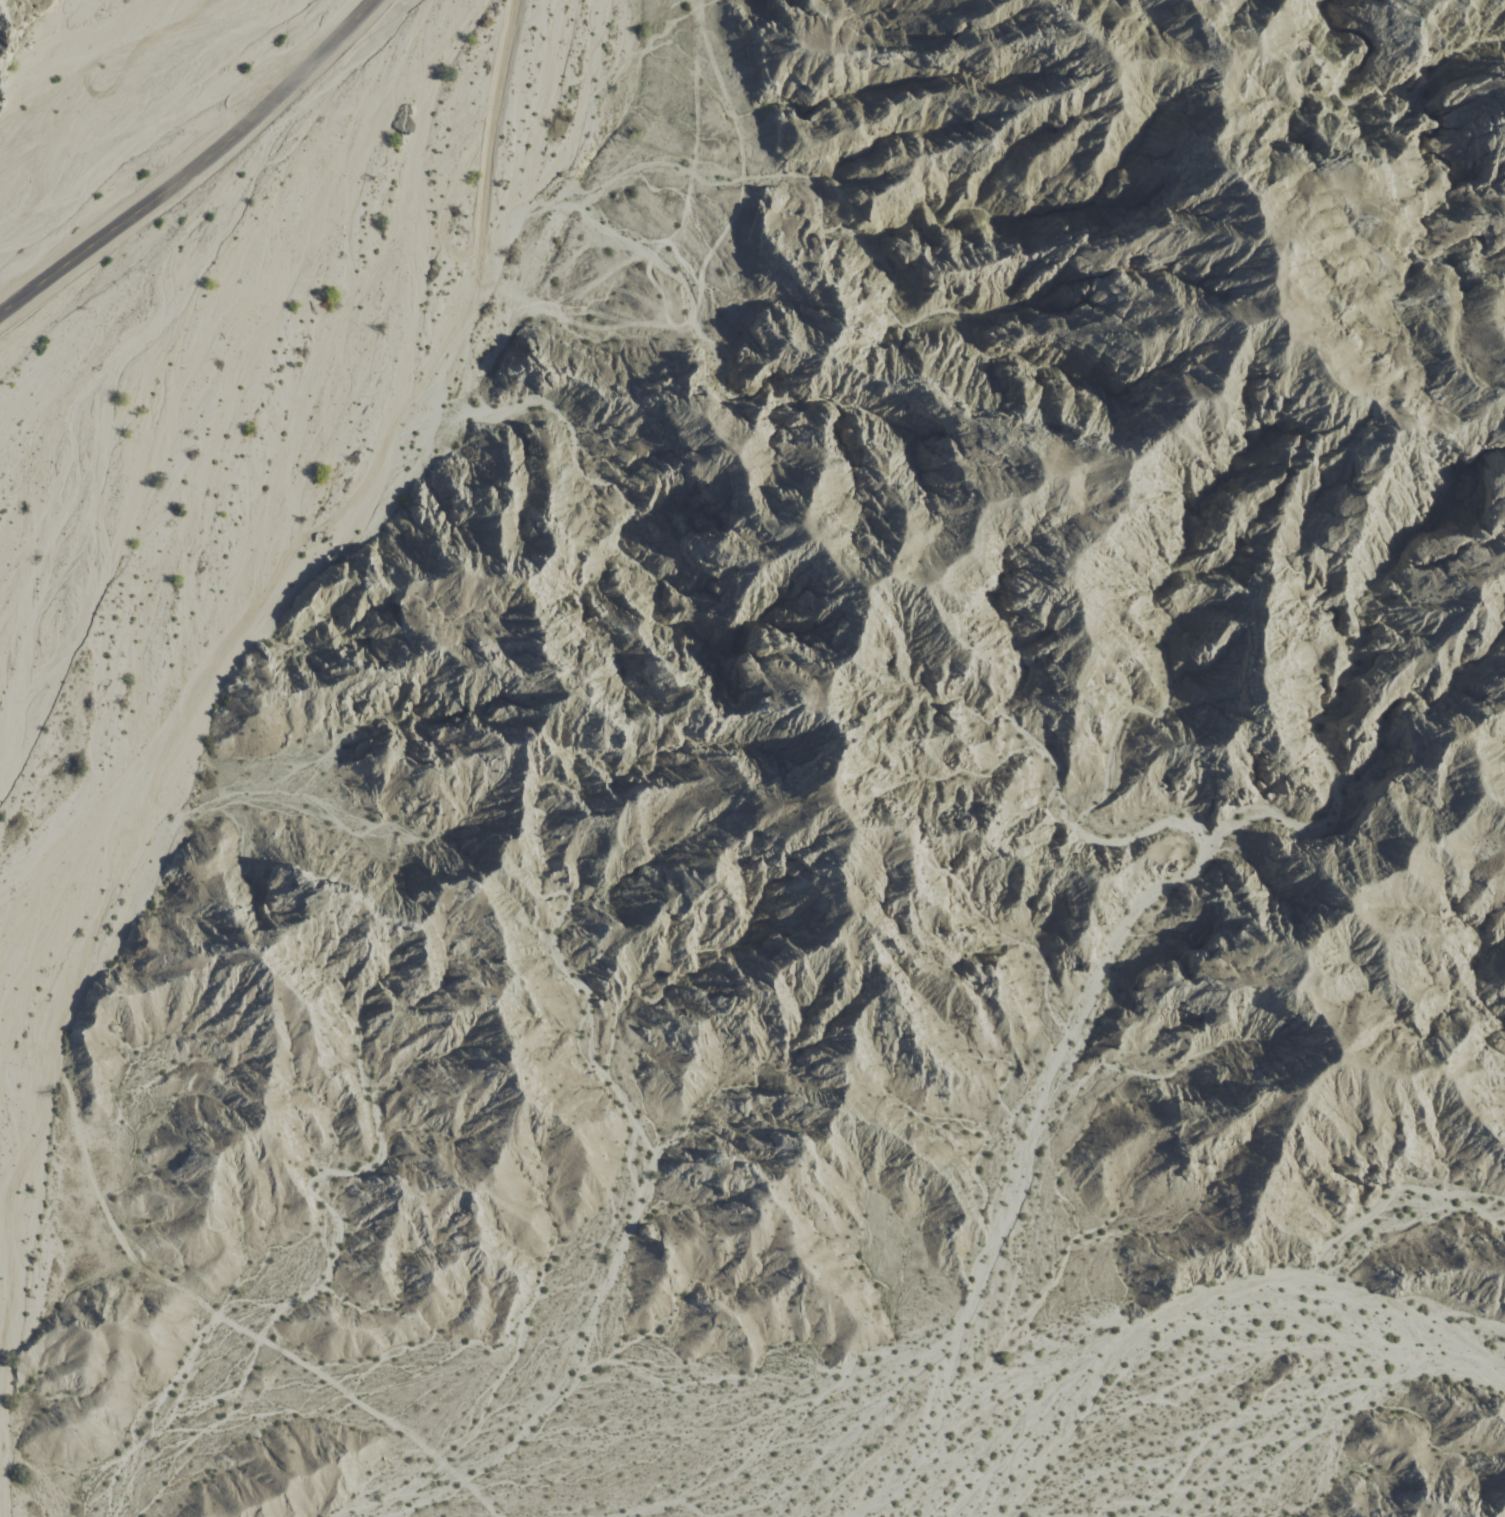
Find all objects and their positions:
road: (189, 165)

